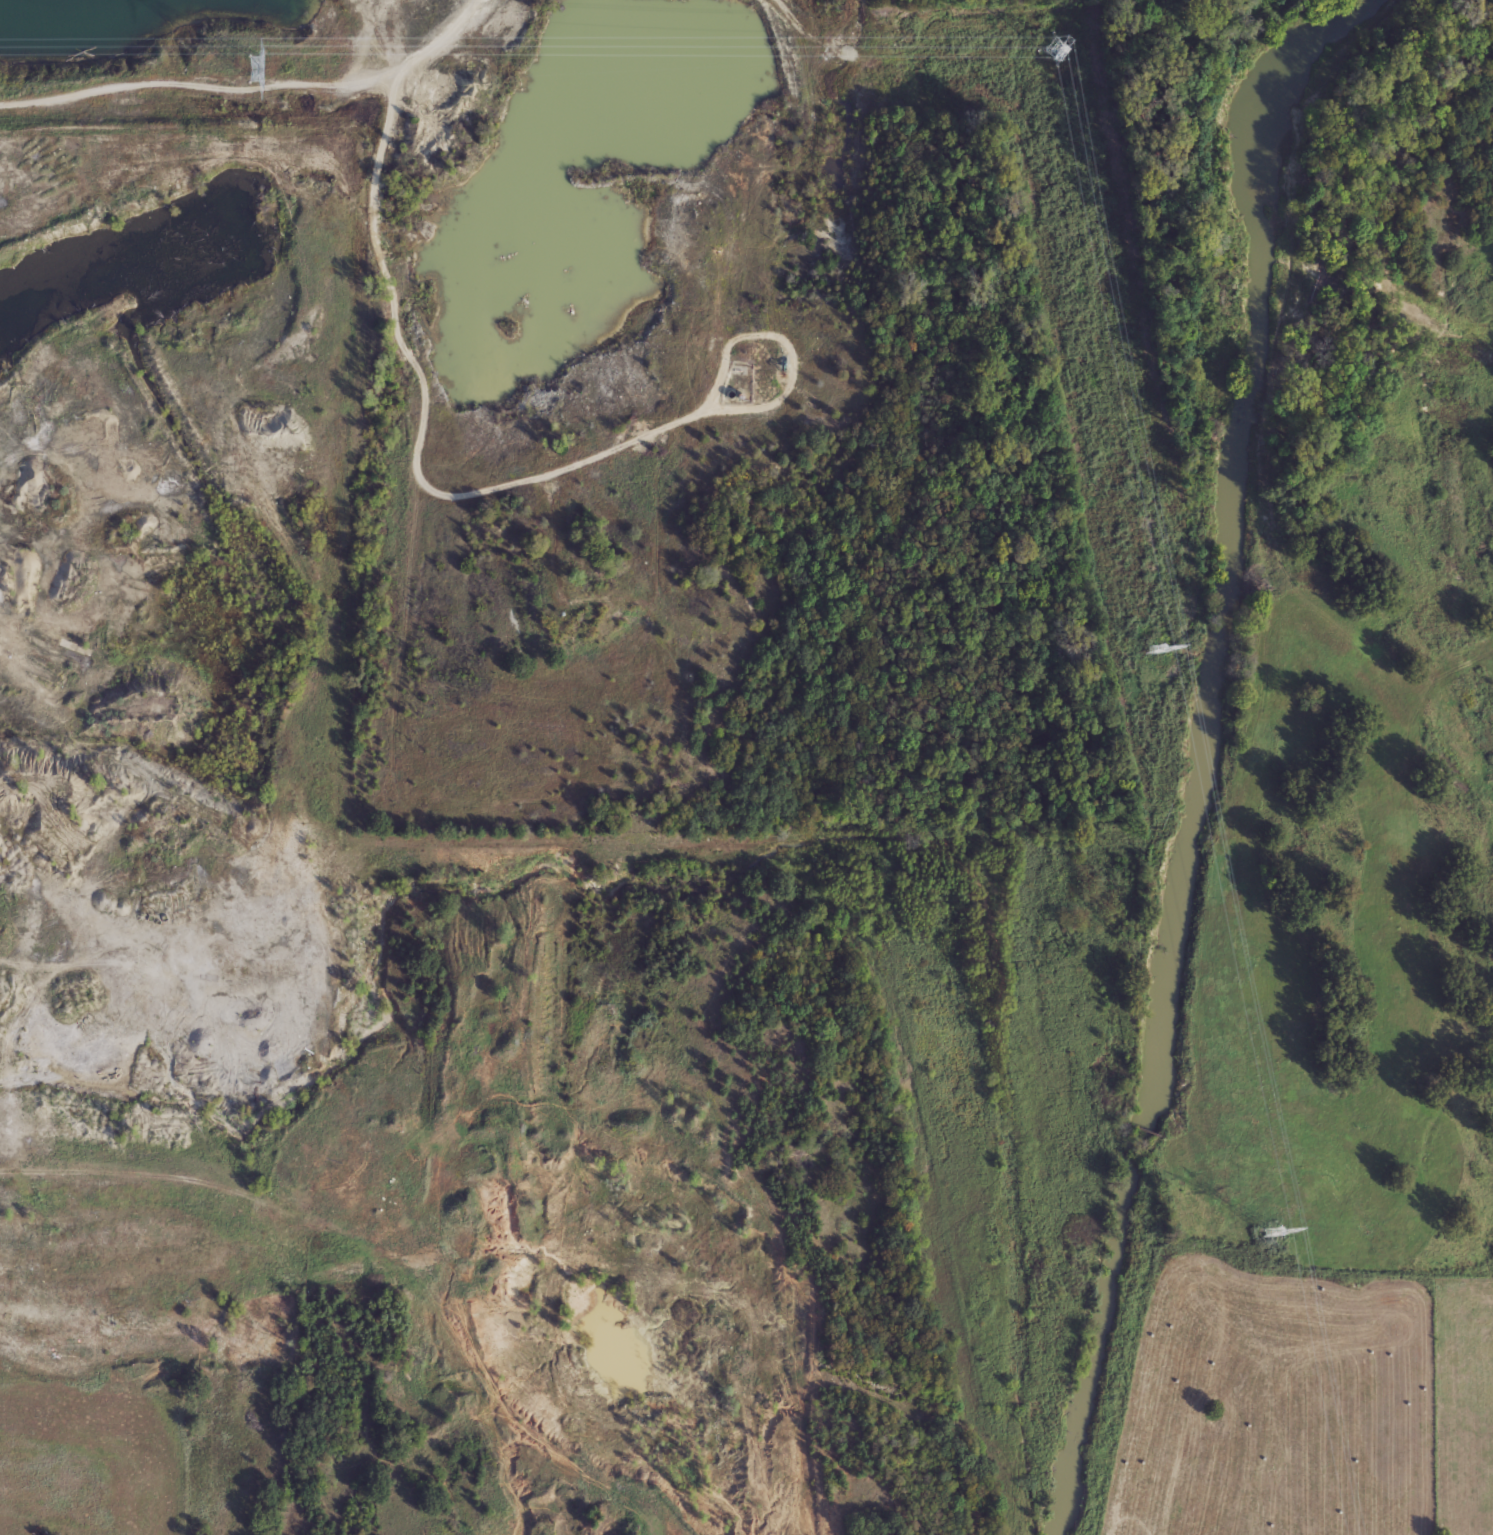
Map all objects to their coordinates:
power tower: (1053, 49)
power tower: (254, 67)
road: (256, 87)
power tower: (1156, 649)
power tower: (1271, 1229)
road: (393, 1262)

